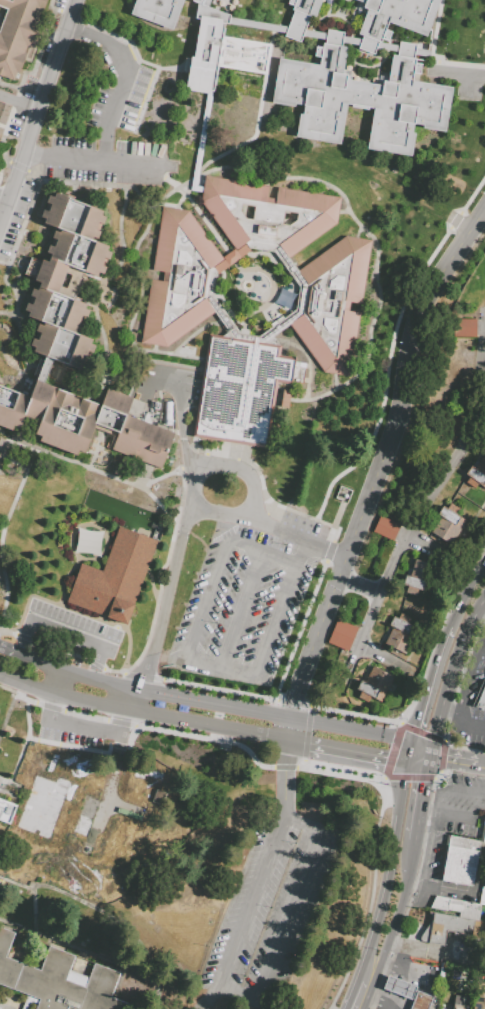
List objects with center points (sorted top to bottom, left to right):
building: (328, 0)
building: (156, 11)
road: (68, 14)
building: (300, 17)
building: (392, 18)
building: (17, 32)
road: (61, 38)
road: (327, 38)
road: (97, 42)
road: (42, 47)
building: (205, 48)
road: (146, 63)
road: (10, 86)
road: (41, 94)
building: (360, 97)
road: (18, 98)
road: (7, 102)
road: (13, 108)
parking lot: (24, 108)
road: (106, 113)
road: (256, 116)
road: (3, 126)
road: (5, 153)
road: (89, 162)
parking lot: (109, 163)
road: (195, 178)
road: (12, 179)
road: (165, 179)
road: (292, 180)
road: (104, 187)
road: (195, 191)
road: (73, 192)
road: (183, 194)
road: (81, 198)
road: (182, 202)
road: (31, 210)
road: (345, 214)
building: (72, 216)
building: (268, 217)
parking lot: (16, 222)
road: (457, 223)
road: (359, 233)
building: (78, 252)
road: (255, 253)
road: (243, 274)
building: (53, 275)
road: (275, 279)
road: (5, 281)
building: (179, 281)
road: (102, 288)
road: (85, 289)
road: (263, 301)
road: (238, 306)
building: (334, 306)
building: (56, 309)
road: (269, 310)
road: (9, 315)
road: (17, 320)
road: (484, 327)
building: (465, 330)
road: (201, 332)
building: (61, 345)
road: (309, 360)
road: (302, 367)
road: (195, 369)
road: (337, 384)
building: (240, 393)
building: (84, 420)
road: (183, 423)
road: (477, 433)
road: (16, 443)
road: (381, 456)
road: (63, 460)
road: (11, 461)
road: (185, 466)
building: (475, 471)
road: (243, 474)
road: (439, 480)
road: (121, 482)
road: (195, 487)
road: (254, 520)
building: (448, 527)
building: (384, 528)
road: (299, 536)
building: (87, 541)
road: (173, 543)
road: (426, 546)
road: (332, 549)
road: (274, 556)
building: (113, 577)
road: (171, 579)
building: (417, 581)
road: (93, 595)
road: (466, 597)
road: (484, 600)
road: (484, 601)
road: (204, 602)
road: (242, 611)
road: (5, 613)
road: (65, 635)
road: (360, 635)
road: (23, 636)
building: (400, 637)
building: (342, 638)
road: (263, 654)
road: (65, 655)
road: (453, 657)
road: (383, 658)
road: (97, 661)
road: (70, 667)
road: (436, 676)
road: (142, 679)
road: (469, 682)
road: (205, 686)
building: (374, 686)
road: (60, 689)
road: (53, 692)
road: (260, 695)
road: (269, 696)
building: (481, 697)
road: (139, 699)
road: (38, 702)
road: (213, 702)
road: (301, 703)
parking lot: (471, 706)
road: (129, 707)
road: (8, 715)
road: (364, 717)
road: (106, 719)
road: (447, 722)
road: (209, 723)
road: (350, 725)
road: (284, 726)
road: (83, 727)
traffic signals: (419, 727)
road: (471, 728)
road: (418, 730)
road: (306, 734)
road: (431, 736)
road: (298, 740)
road: (26, 745)
road: (127, 745)
road: (422, 745)
road: (410, 751)
road: (358, 757)
traffic signals: (445, 758)
road: (451, 759)
road: (416, 760)
traffic signals: (384, 763)
road: (480, 765)
road: (111, 770)
road: (284, 777)
traffic signals: (427, 781)
road: (399, 791)
road: (454, 792)
road: (482, 793)
road: (33, 794)
road: (13, 796)
road: (423, 798)
road: (430, 811)
building: (6, 812)
road: (468, 817)
building: (482, 831)
parking lot: (452, 834)
road: (377, 846)
road: (431, 849)
building: (459, 863)
road: (416, 885)
road: (444, 891)
road: (34, 895)
road: (68, 895)
road: (386, 898)
parking lot: (275, 910)
building: (453, 911)
road: (399, 912)
building: (445, 930)
road: (62, 944)
road: (31, 945)
road: (428, 951)
road: (397, 965)
building: (57, 981)
building: (395, 989)
gas station: (395, 989)
building: (481, 990)
road: (364, 993)
road: (257, 999)
building: (419, 1001)
building: (480, 1005)
building: (455, 1007)

